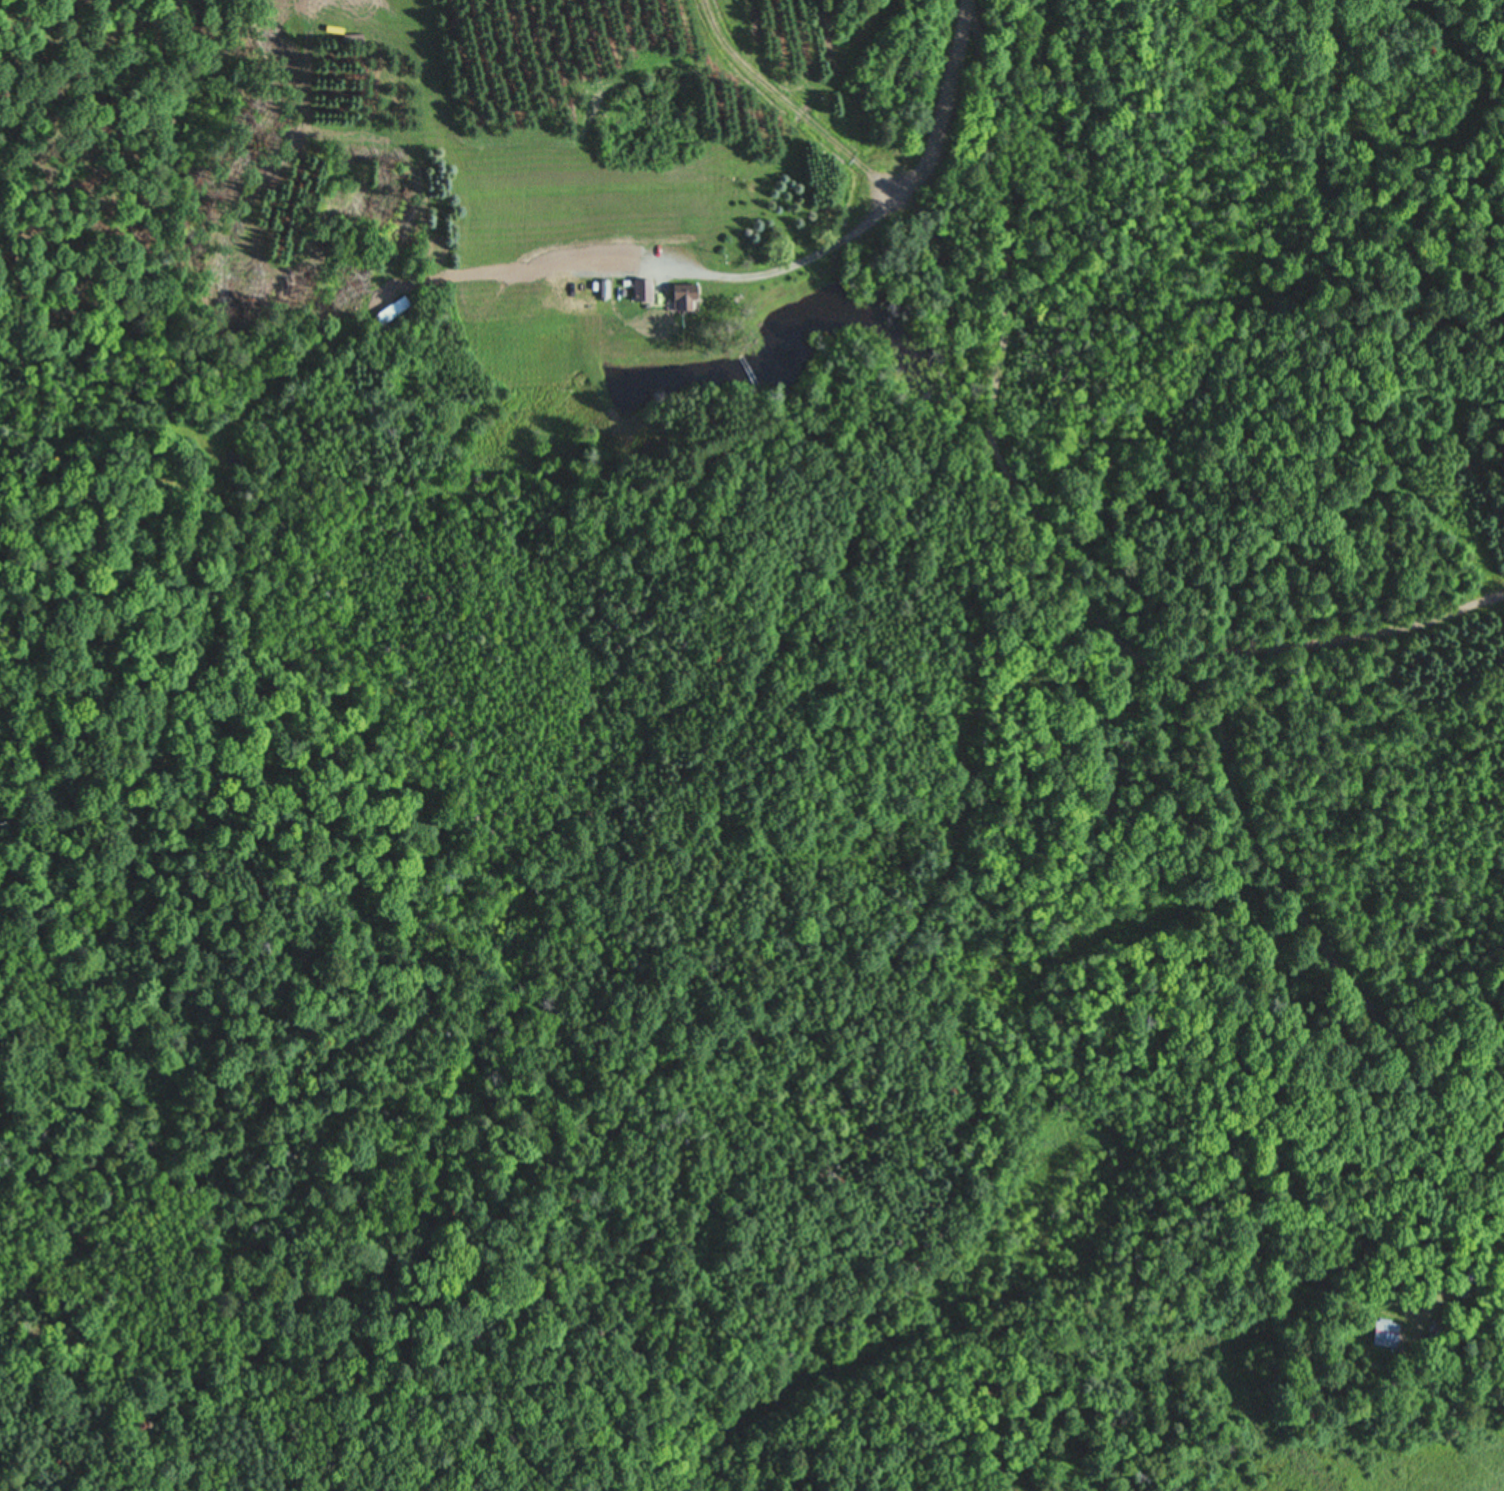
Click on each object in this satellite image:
road: (906, 180)
building: (642, 291)
building: (579, 296)
building: (683, 300)
building: (392, 311)
river: (1066, 1319)
building: (1384, 1336)

